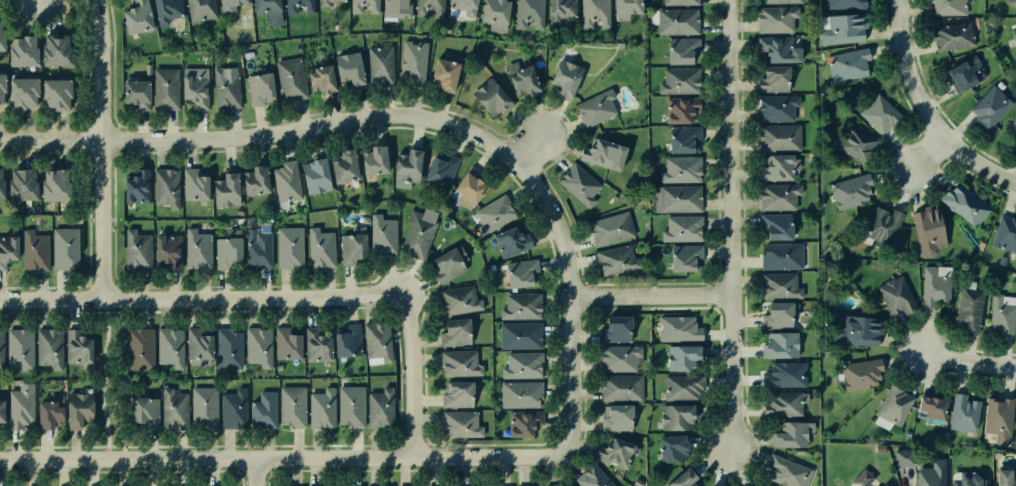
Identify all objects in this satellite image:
building: (676, 1)
building: (779, 1)
building: (228, 2)
building: (329, 3)
building: (1009, 3)
building: (841, 4)
building: (265, 5)
building: (296, 5)
building: (363, 6)
building: (395, 7)
building: (460, 7)
building: (947, 7)
building: (199, 8)
building: (428, 8)
building: (560, 9)
building: (622, 9)
building: (164, 10)
building: (491, 10)
building: (592, 10)
building: (526, 13)
building: (133, 15)
building: (775, 19)
building: (675, 21)
building: (838, 31)
building: (948, 34)
building: (1013, 34)
building: (2, 35)
building: (679, 49)
building: (52, 50)
building: (777, 50)
building: (19, 51)
building: (414, 62)
building: (381, 64)
building: (848, 66)
building: (345, 67)
building: (962, 73)
building: (445, 74)
building: (318, 78)
building: (290, 79)
building: (522, 79)
building: (566, 79)
building: (769, 79)
building: (680, 80)
building: (257, 88)
building: (163, 89)
building: (2, 90)
building: (194, 90)
building: (225, 90)
building: (19, 94)
building: (53, 94)
building: (132, 94)
building: (492, 97)
building: (988, 105)
building: (593, 108)
building: (679, 108)
building: (775, 108)
road: (925, 112)
building: (879, 114)
building: (1010, 131)
road: (264, 136)
building: (681, 138)
building: (777, 138)
building: (855, 141)
road: (531, 142)
road: (99, 147)
building: (603, 155)
road: (927, 156)
building: (371, 158)
building: (340, 163)
building: (403, 163)
building: (773, 166)
building: (437, 168)
building: (678, 169)
building: (312, 173)
building: (284, 179)
building: (253, 180)
building: (1, 183)
building: (21, 183)
building: (192, 183)
building: (578, 183)
building: (51, 184)
building: (132, 185)
building: (222, 186)
building: (164, 188)
building: (465, 188)
building: (848, 190)
building: (774, 195)
building: (673, 198)
building: (963, 204)
building: (491, 215)
building: (881, 220)
road: (729, 224)
building: (773, 226)
building: (608, 228)
building: (681, 228)
building: (925, 229)
building: (418, 232)
building: (1004, 232)
building: (383, 235)
building: (510, 241)
building: (288, 246)
building: (321, 248)
building: (8, 249)
building: (257, 249)
building: (354, 249)
building: (64, 250)
building: (165, 250)
building: (136, 252)
building: (197, 252)
building: (34, 253)
building: (227, 253)
building: (782, 255)
building: (683, 258)
building: (613, 260)
building: (450, 263)
building: (520, 274)
building: (777, 285)
building: (932, 285)
building: (895, 293)
road: (203, 296)
road: (652, 297)
building: (460, 300)
building: (968, 305)
building: (521, 306)
building: (1001, 313)
building: (775, 314)
building: (673, 328)
building: (857, 328)
building: (612, 330)
building: (452, 331)
building: (516, 336)
building: (344, 340)
building: (378, 341)
building: (779, 343)
building: (285, 344)
building: (315, 344)
building: (48, 346)
building: (197, 346)
building: (257, 346)
building: (137, 347)
building: (78, 348)
building: (168, 348)
building: (227, 348)
building: (2, 350)
building: (18, 350)
building: (678, 358)
building: (615, 359)
road: (969, 360)
building: (460, 363)
building: (518, 365)
building: (860, 373)
building: (784, 374)
road: (412, 375)
road: (100, 376)
building: (678, 388)
building: (620, 389)
building: (455, 394)
building: (519, 394)
building: (783, 403)
building: (891, 405)
building: (349, 406)
building: (378, 406)
building: (22, 407)
building: (291, 407)
building: (321, 407)
building: (204, 408)
building: (230, 409)
building: (927, 409)
building: (174, 410)
building: (261, 410)
building: (2, 411)
building: (76, 412)
building: (48, 413)
building: (142, 414)
building: (962, 416)
building: (675, 418)
building: (614, 419)
building: (995, 419)
building: (521, 421)
building: (457, 424)
building: (787, 432)
building: (1015, 439)
building: (668, 450)
road: (435, 454)
building: (615, 455)
building: (904, 456)
road: (255, 471)
building: (791, 472)
building: (931, 474)
building: (593, 477)
building: (1006, 477)
building: (682, 478)
building: (864, 478)
building: (969, 481)
building: (493, 485)
building: (556, 485)
building: (712, 485)
building: (759, 485)
building: (883, 485)

